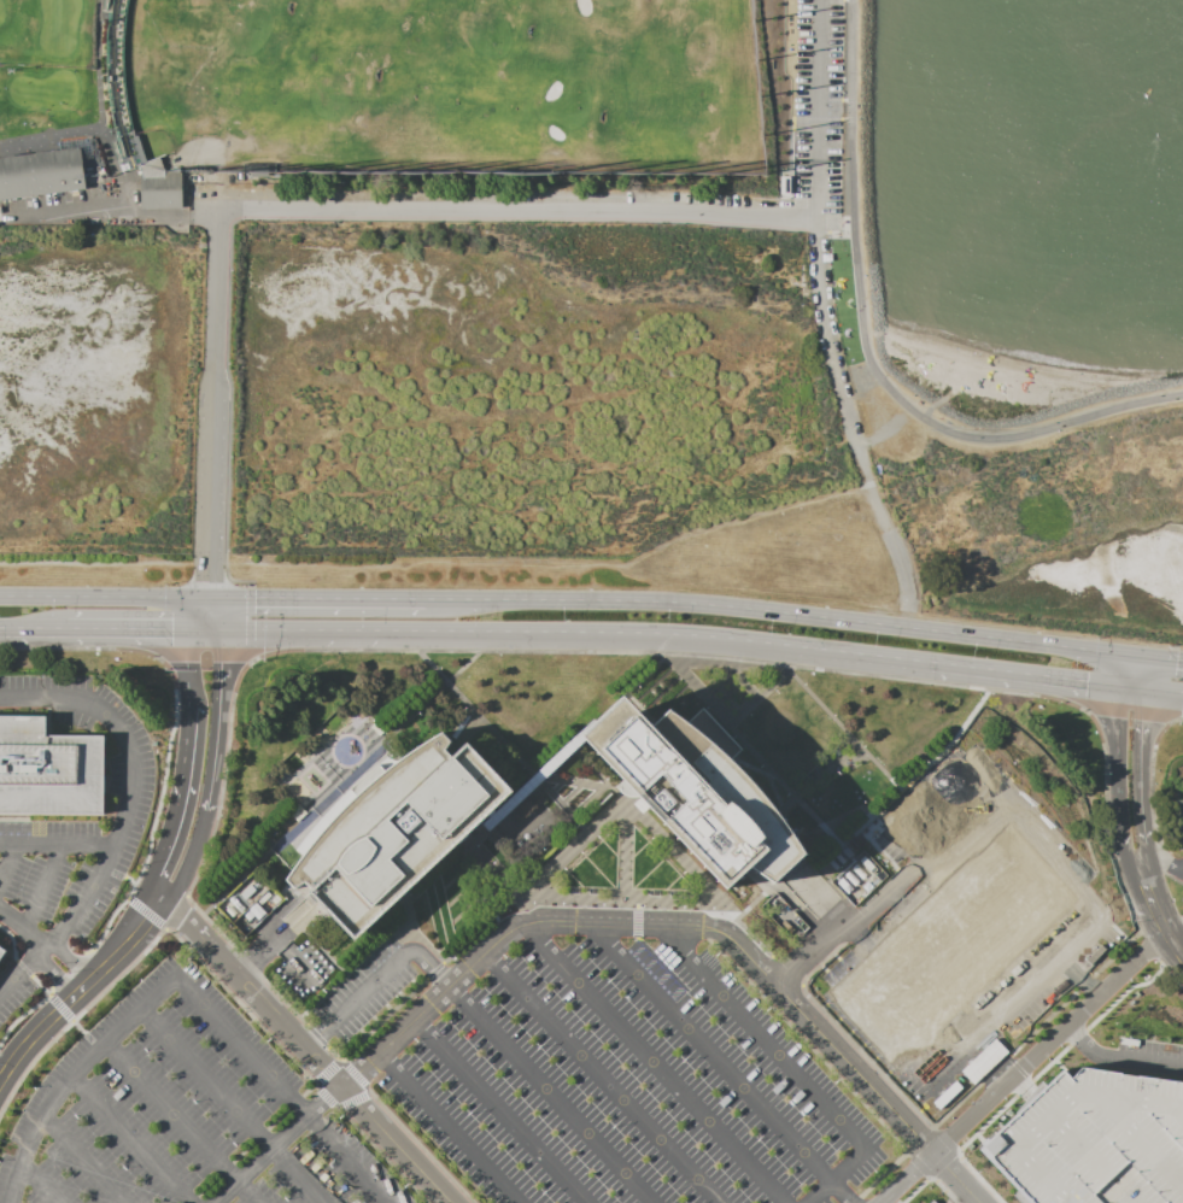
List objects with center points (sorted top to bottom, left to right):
park: (371, 99)
road: (821, 108)
parking lot: (818, 112)
park: (822, 149)
road: (37, 152)
building: (41, 176)
building: (158, 187)
road: (520, 209)
road: (119, 210)
road: (215, 405)
road: (105, 598)
road: (318, 599)
road: (198, 615)
road: (216, 615)
road: (804, 616)
road: (248, 623)
road: (4, 628)
road: (37, 629)
road: (125, 630)
road: (203, 632)
road: (238, 632)
road: (293, 632)
road: (355, 632)
road: (585, 632)
road: (628, 652)
road: (206, 658)
road: (955, 665)
road: (459, 668)
road: (652, 668)
road: (1129, 671)
road: (1142, 673)
road: (766, 688)
road: (1150, 689)
road: (1124, 709)
road: (187, 716)
road: (122, 722)
road: (217, 723)
road: (844, 729)
road: (499, 740)
road: (168, 741)
road: (1119, 758)
road: (1152, 759)
building: (48, 770)
road: (1142, 779)
building: (696, 790)
park: (935, 816)
parking lot: (63, 817)
road: (12, 818)
road: (492, 820)
building: (397, 831)
road: (826, 832)
road: (1124, 840)
road: (1155, 844)
road: (55, 845)
road: (164, 849)
road: (623, 851)
road: (1131, 858)
road: (7, 861)
road: (189, 861)
road: (1160, 862)
road: (494, 870)
road: (1172, 878)
road: (40, 887)
road: (690, 899)
road: (82, 900)
road: (1150, 900)
road: (728, 909)
road: (402, 914)
road: (634, 920)
road: (490, 923)
road: (655, 925)
road: (1176, 929)
road: (22, 931)
road: (152, 940)
road: (818, 943)
road: (130, 944)
building: (950, 944)
road: (1176, 944)
road: (1148, 945)
road: (13, 946)
road: (263, 946)
road: (317, 947)
building: (0, 949)
building: (1, 953)
road: (365, 957)
road: (70, 962)
road: (247, 962)
road: (429, 968)
road: (22, 969)
road: (1169, 973)
road: (54, 974)
road: (1039, 979)
road: (552, 984)
road: (368, 987)
parking lot: (369, 990)
road: (83, 991)
road: (253, 992)
road: (1073, 992)
road: (505, 996)
road: (283, 1003)
road: (60, 1008)
road: (21, 1015)
road: (1090, 1015)
road: (833, 1025)
road: (316, 1035)
road: (316, 1037)
road: (34, 1038)
road: (1052, 1044)
road: (742, 1045)
road: (333, 1052)
road: (1102, 1052)
road: (992, 1062)
road: (475, 1063)
road: (995, 1068)
road: (326, 1070)
road: (70, 1074)
road: (637, 1075)
road: (280, 1090)
road: (1017, 1090)
road: (358, 1098)
road: (233, 1105)
road: (955, 1105)
parking lot: (180, 1114)
road: (182, 1121)
road: (977, 1127)
building: (1094, 1135)
parking garage: (1094, 1135)
road: (128, 1140)
road: (251, 1143)
road: (701, 1143)
road: (281, 1145)
road: (397, 1145)
road: (420, 1148)
road: (908, 1154)
road: (381, 1155)
road: (953, 1155)
road: (81, 1162)
road: (646, 1162)
road: (884, 1176)
road: (957, 1178)
road: (978, 1178)
road: (909, 1179)
road: (35, 1187)
road: (910, 1187)
road: (943, 1190)
road: (749, 1199)
building: (932, 1201)

